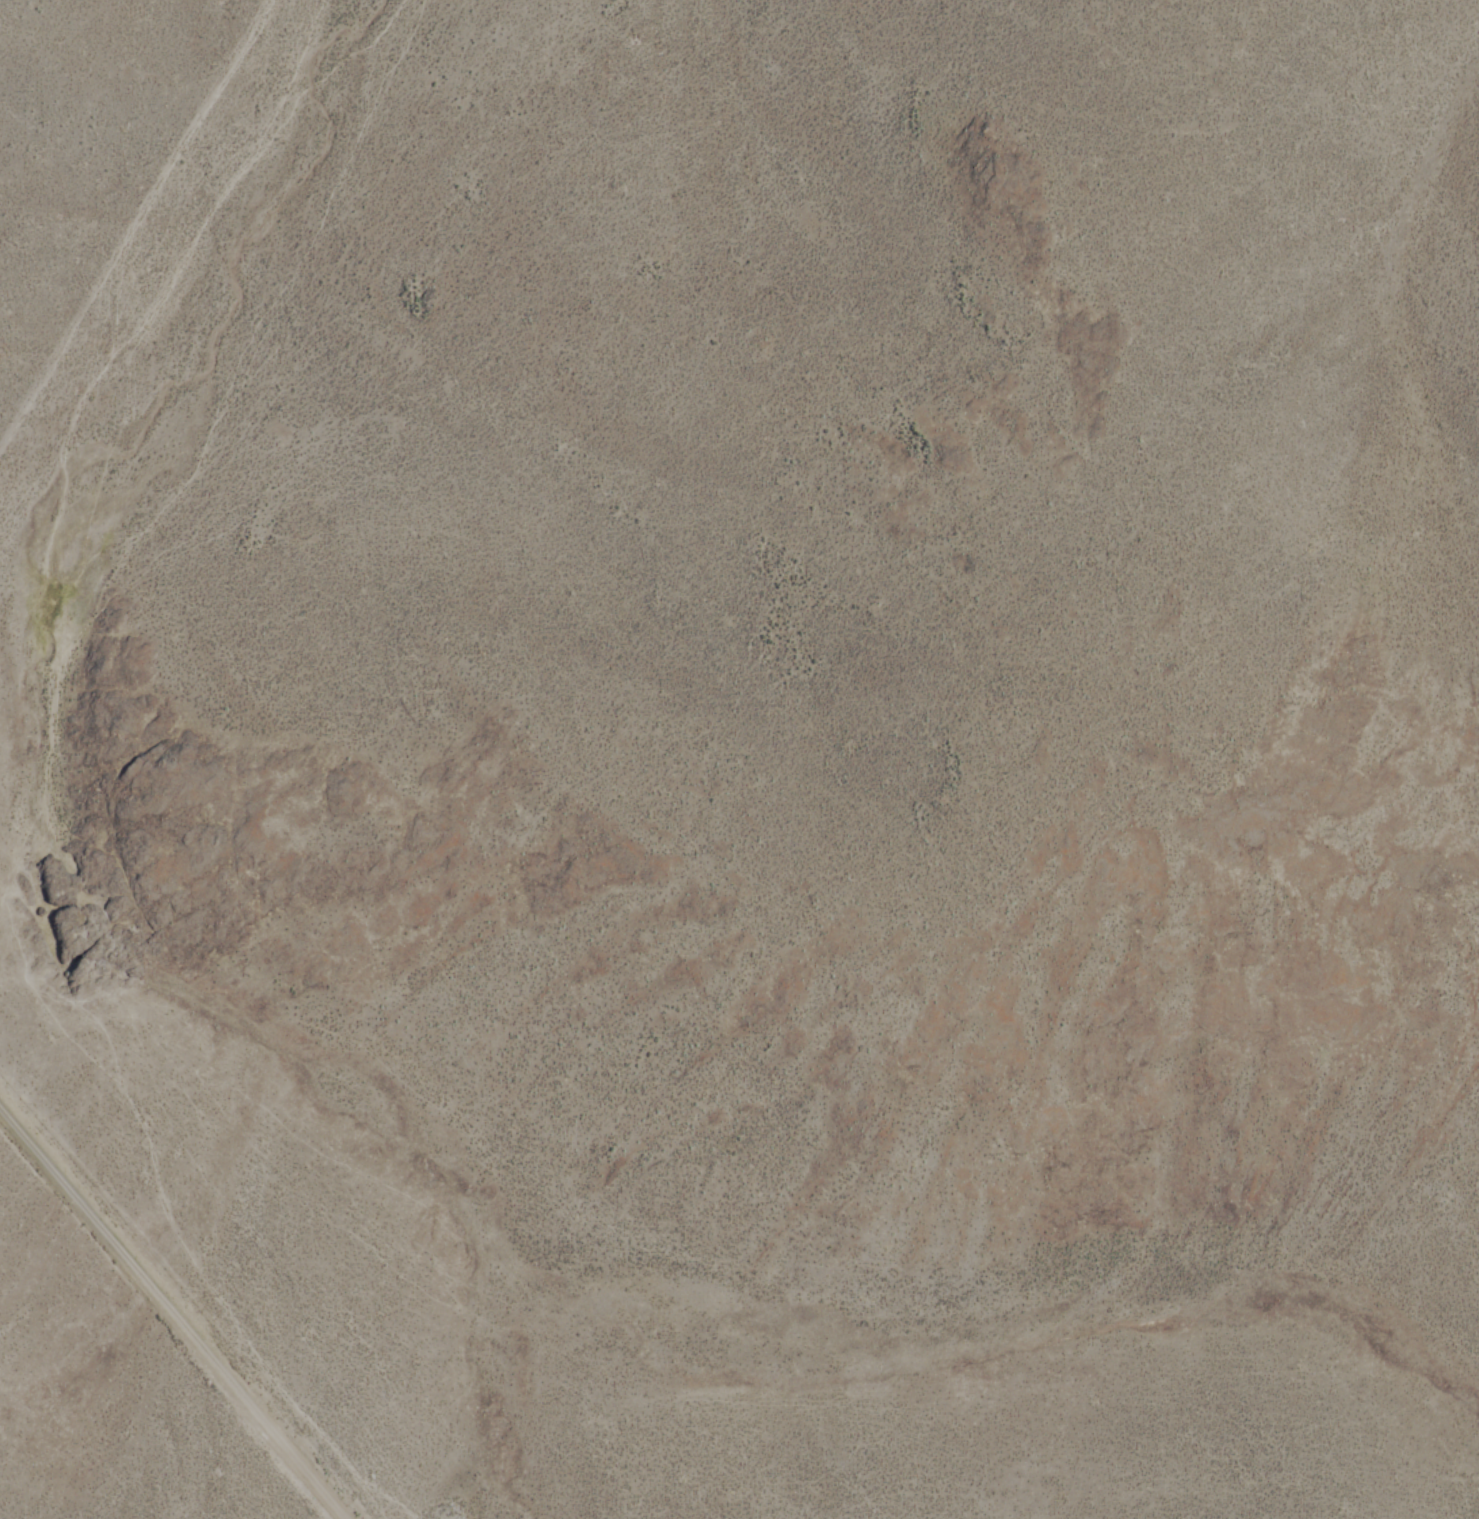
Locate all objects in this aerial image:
road: (172, 1315)

